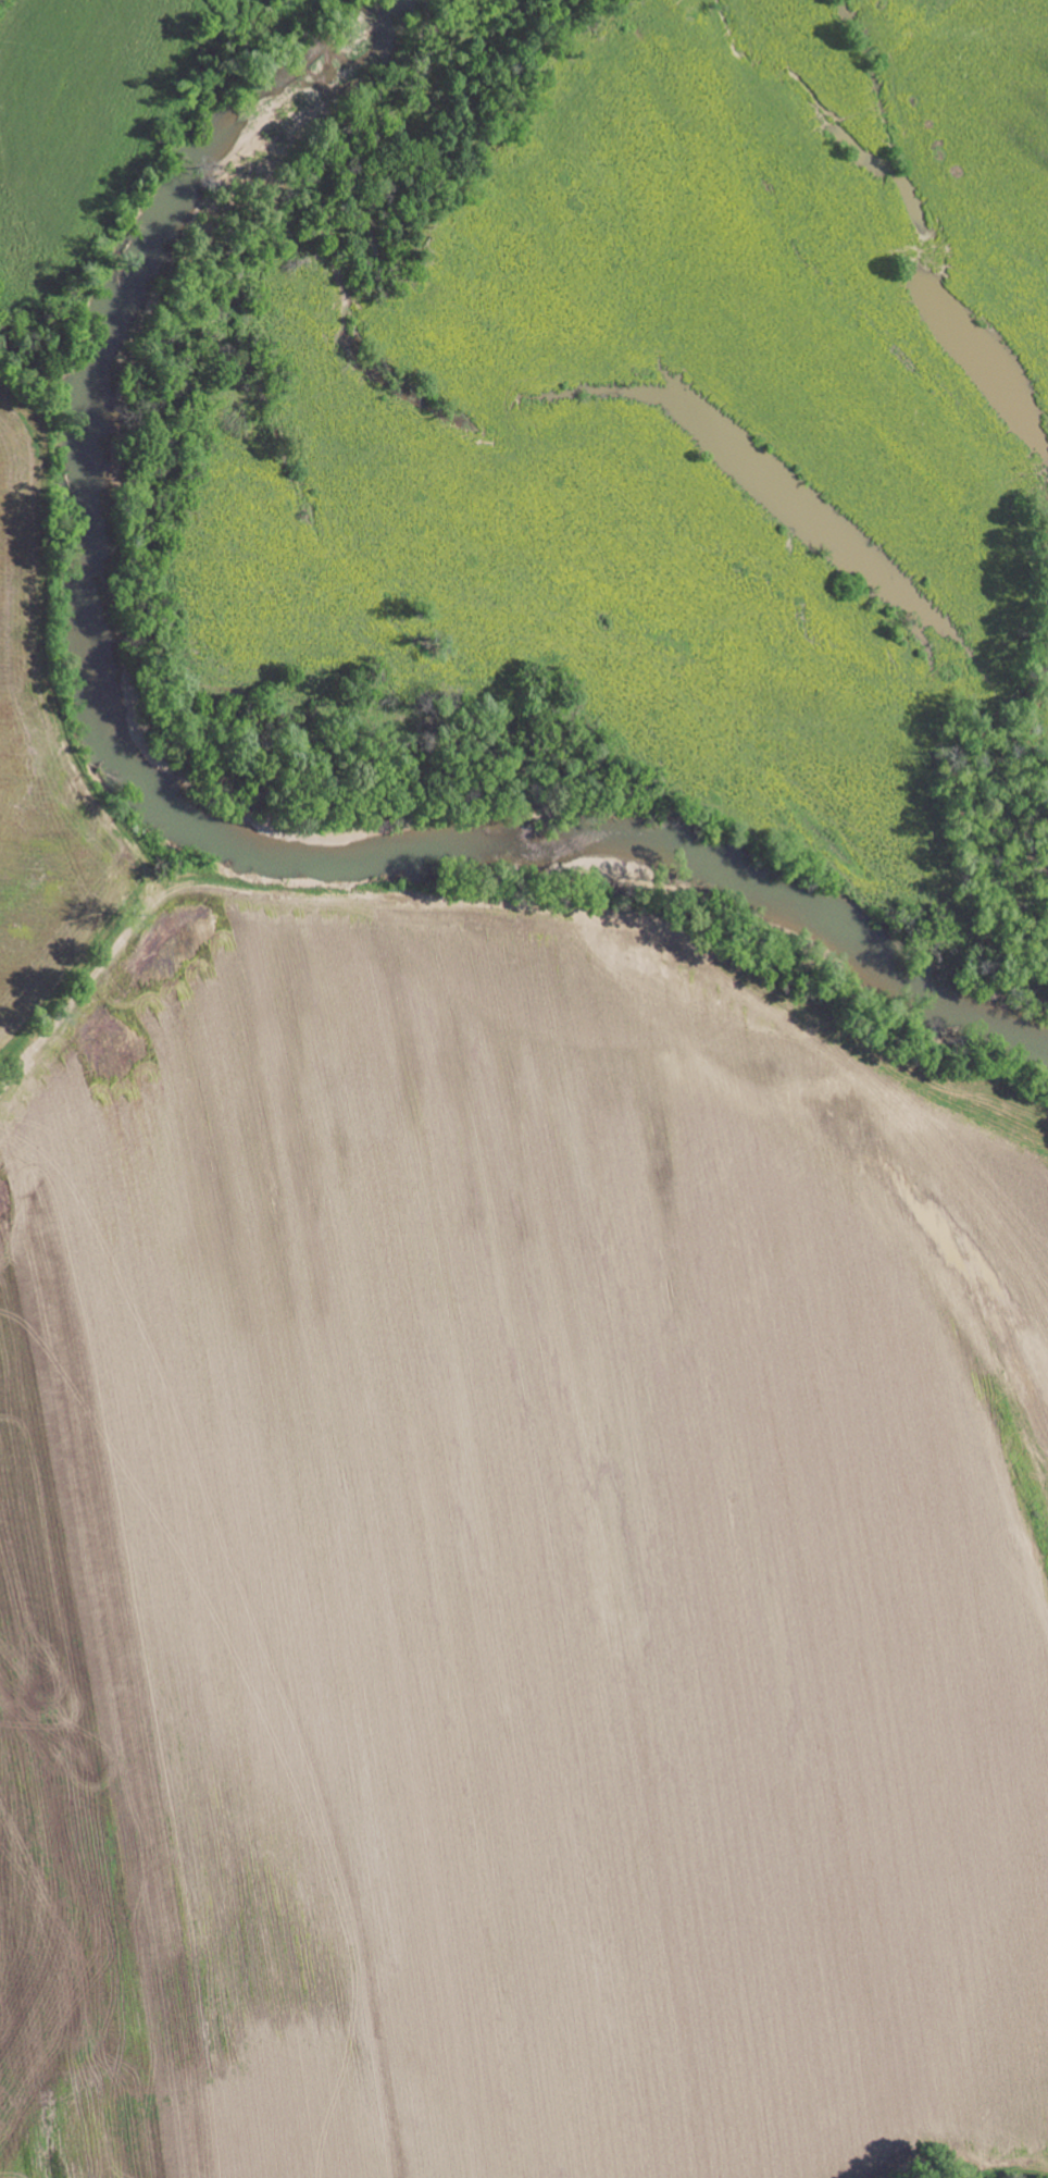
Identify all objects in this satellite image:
river: (160, 802)
road: (79, 989)

